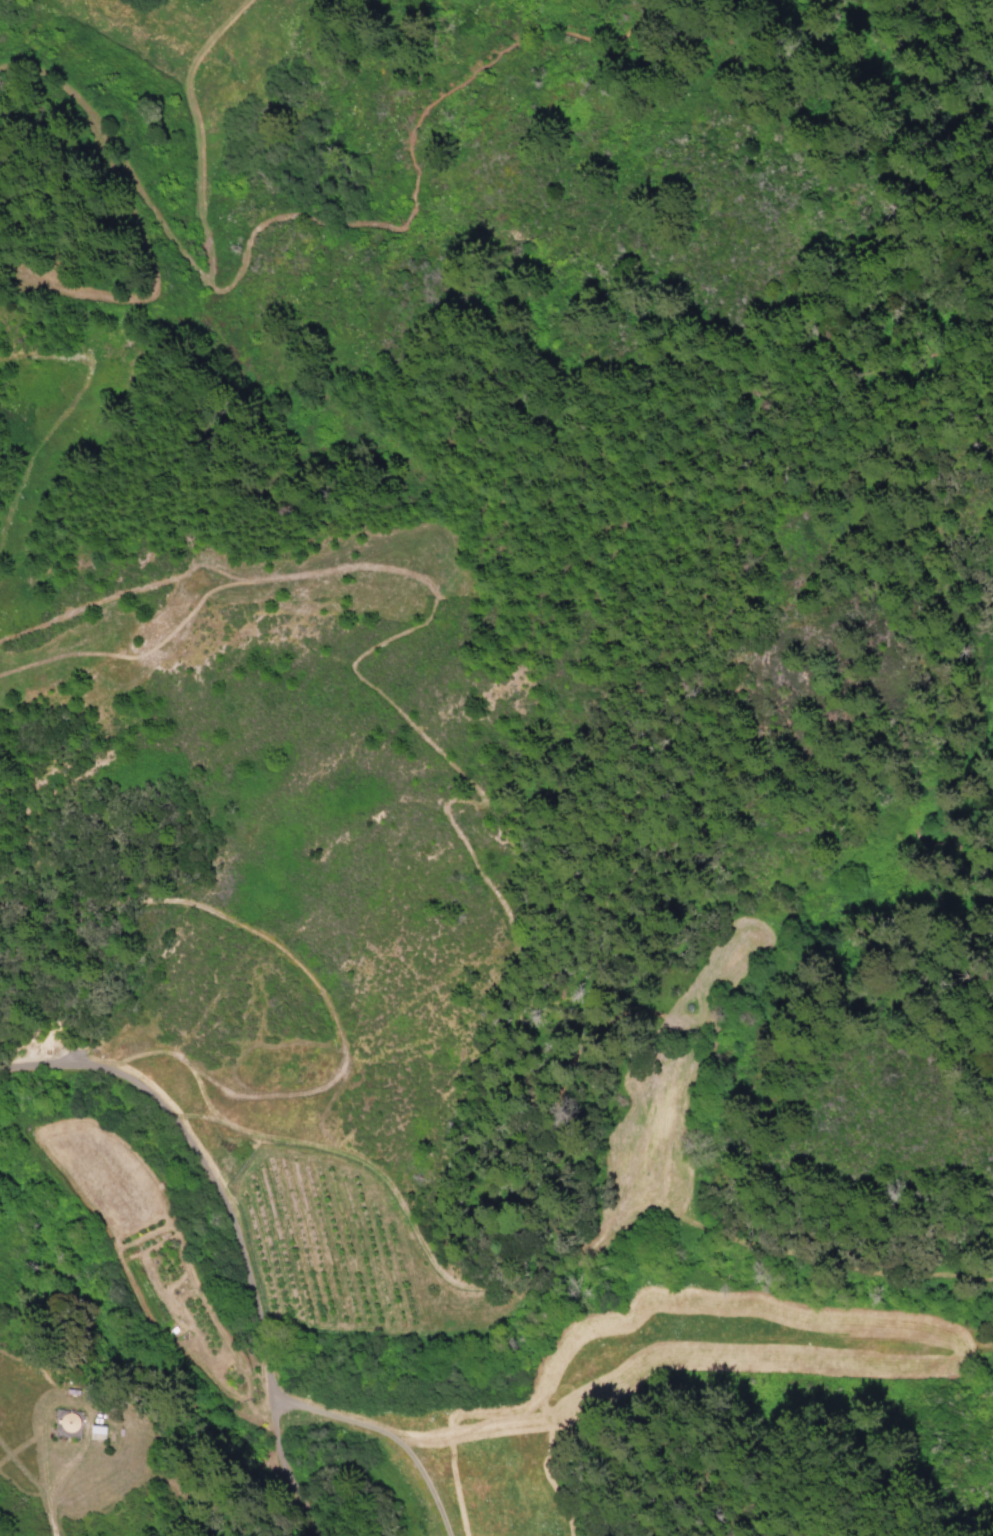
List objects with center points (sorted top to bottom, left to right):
road: (176, 1118)
crop: (136, 1230)
crop: (327, 1244)
road: (258, 1302)
road: (266, 1370)
building: (98, 1432)
road: (275, 1438)
road: (58, 1486)
road: (293, 1492)

